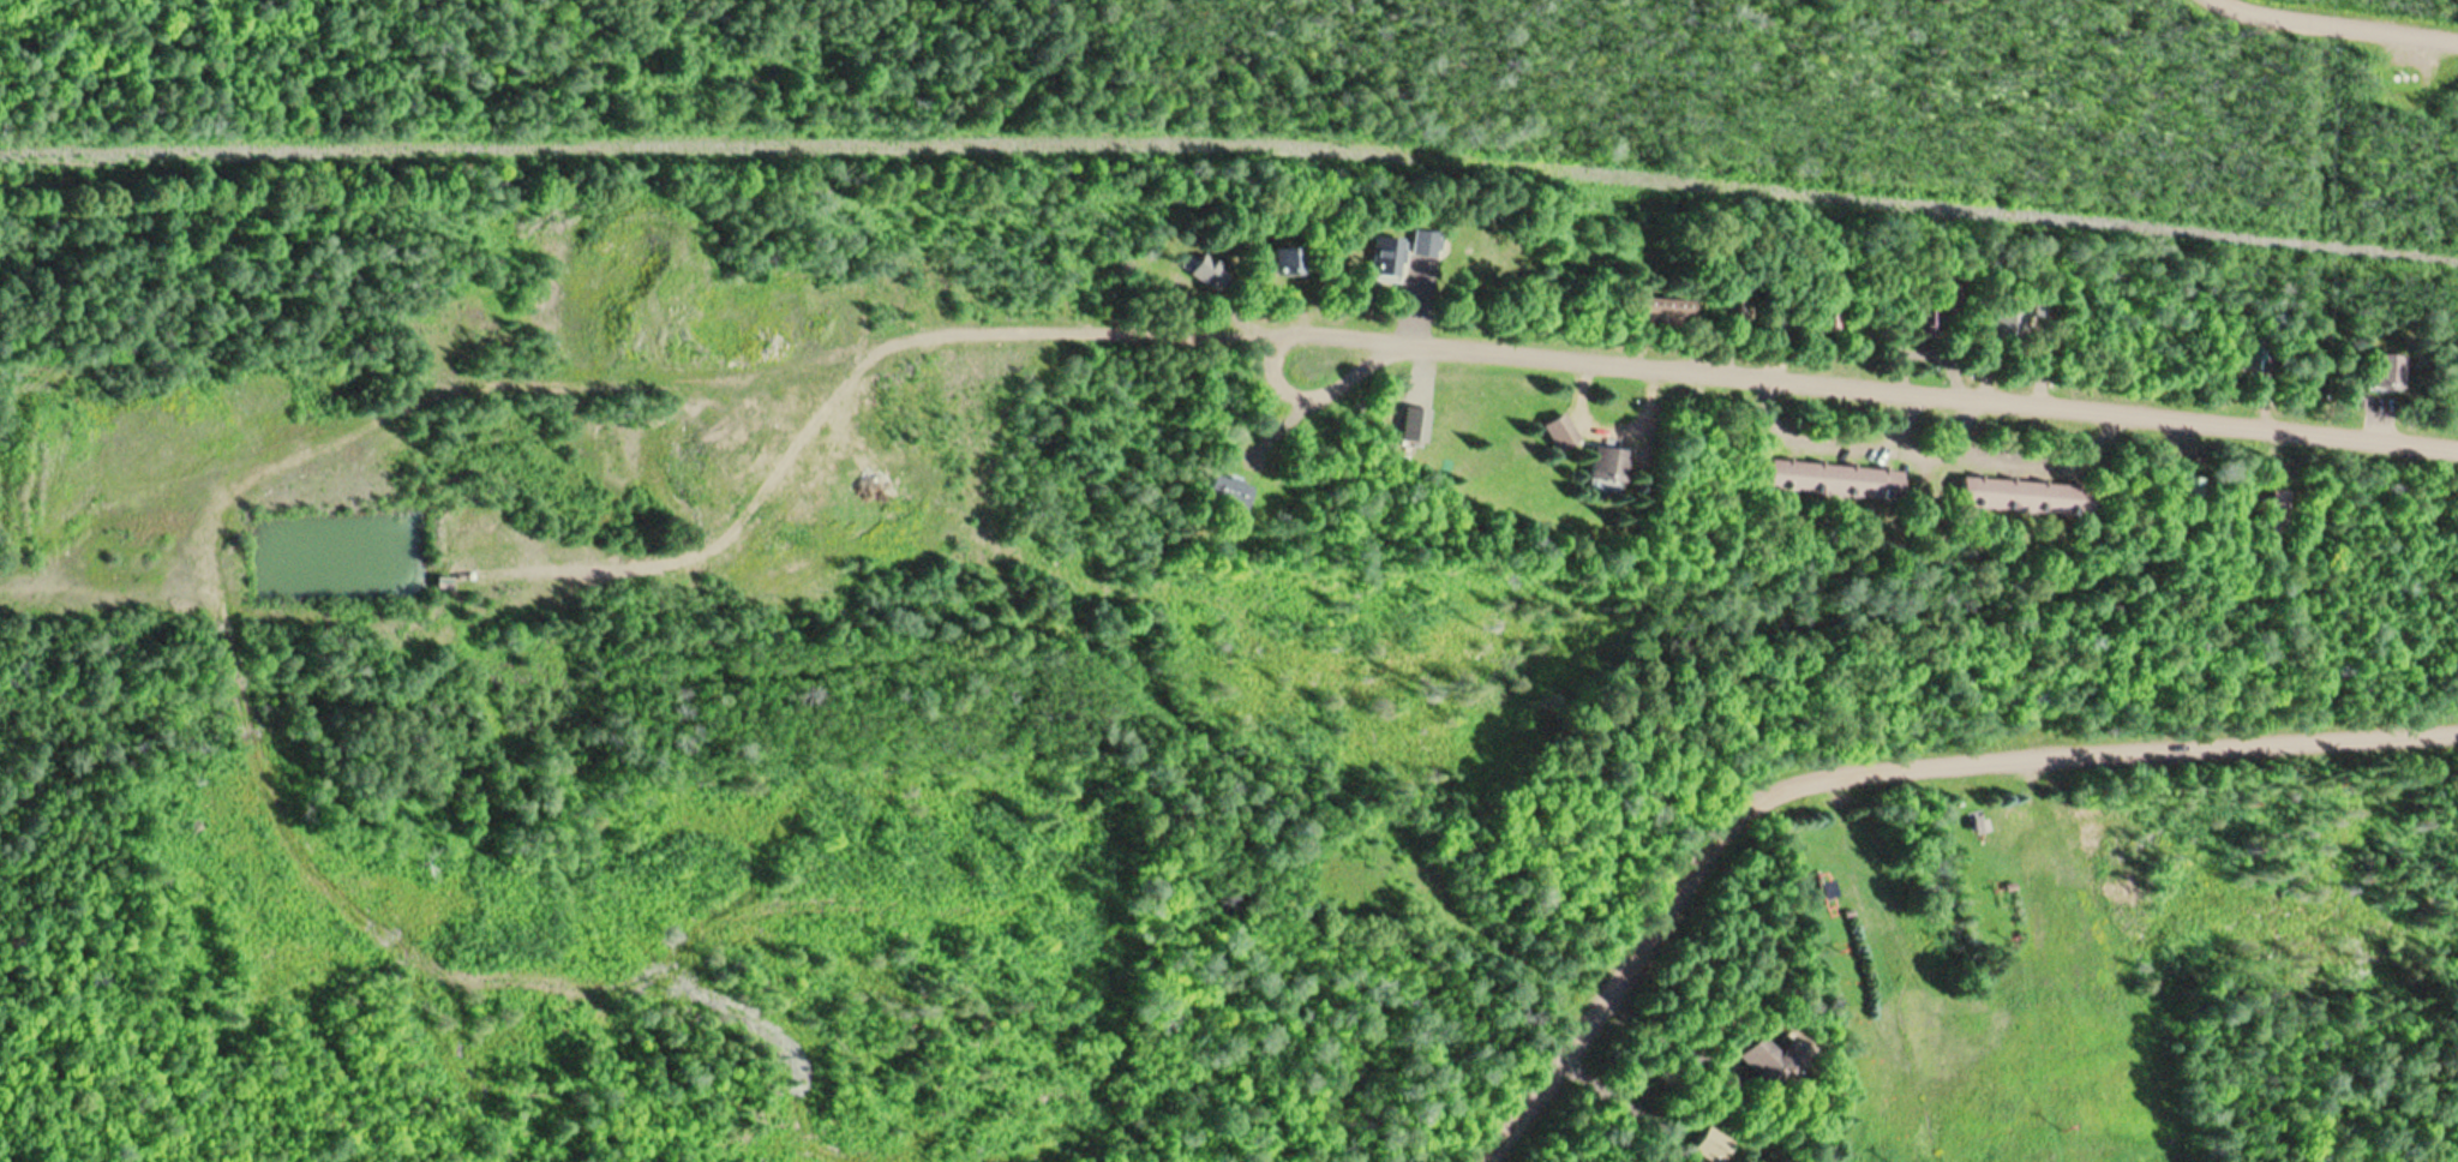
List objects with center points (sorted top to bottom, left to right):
road: (2336, 17)
railway: (1231, 136)
building: (1423, 245)
building: (1384, 257)
building: (1281, 259)
building: (1204, 271)
building: (1655, 310)
building: (1729, 311)
building: (1825, 316)
building: (2001, 322)
building: (1924, 324)
building: (2254, 355)
road: (798, 366)
building: (2381, 373)
road: (2046, 412)
building: (1558, 432)
building: (1607, 468)
building: (1831, 480)
building: (2181, 491)
building: (1225, 492)
building: (2022, 497)
building: (2276, 511)
road: (1883, 772)
ski resort: (1984, 772)
aerialway pylon: (1994, 884)
aerialway pylon: (2008, 938)
aerialway pylon: (1842, 951)
building: (1770, 1058)
aerialway pylon: (2063, 1128)
building: (1711, 1145)

